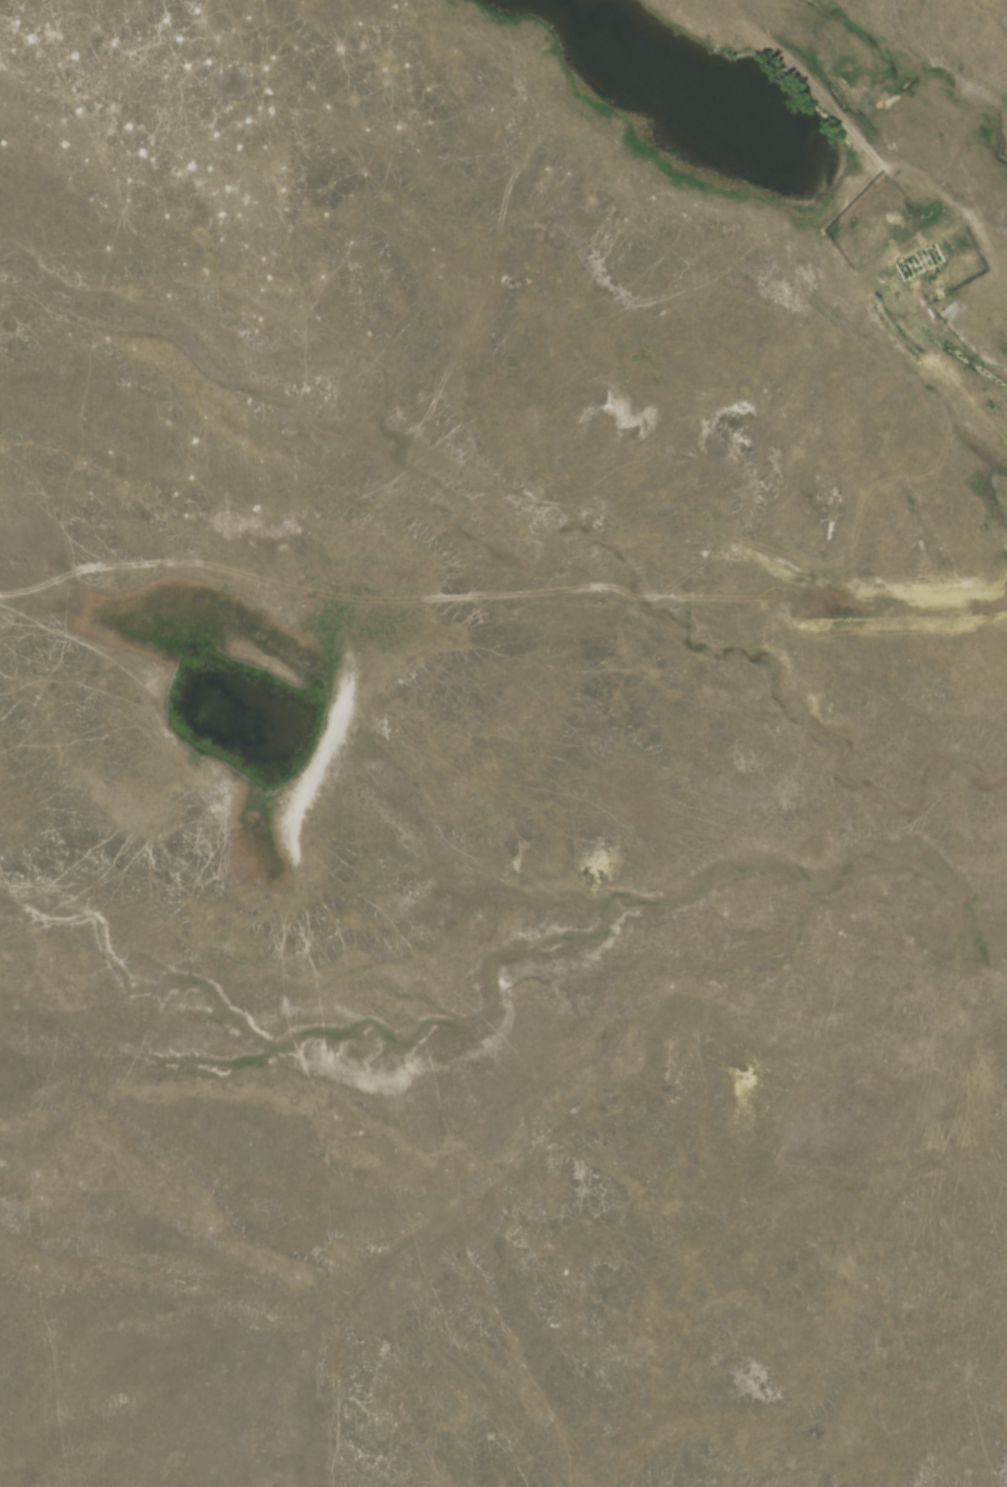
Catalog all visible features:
road: (947, 348)

